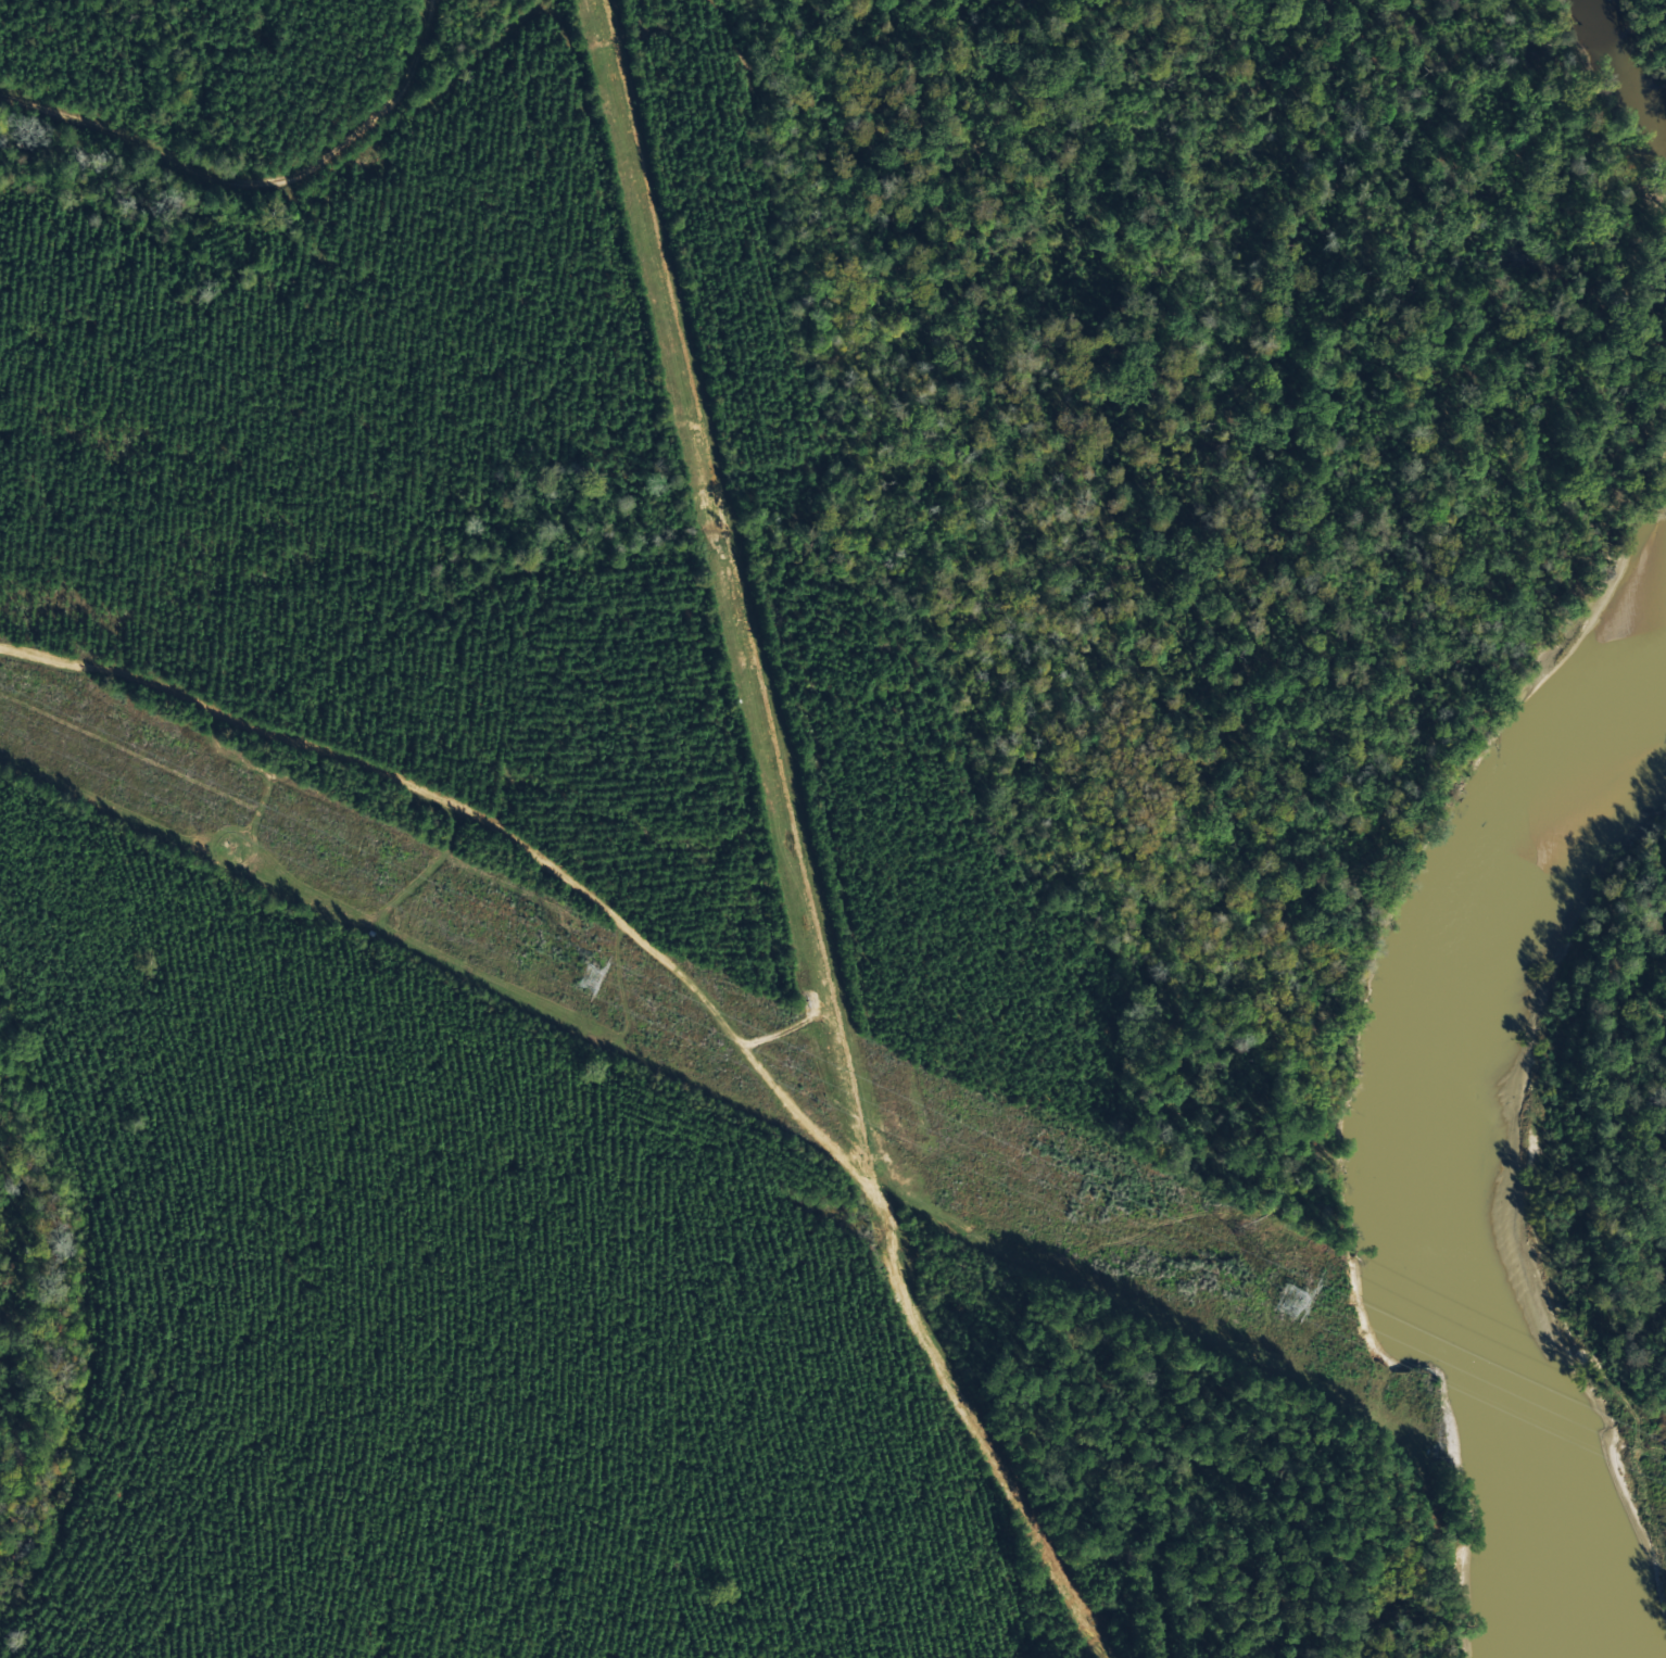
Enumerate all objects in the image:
road: (237, 167)
power tower: (588, 977)
road: (697, 1036)
river: (1415, 1153)
power tower: (1291, 1304)

